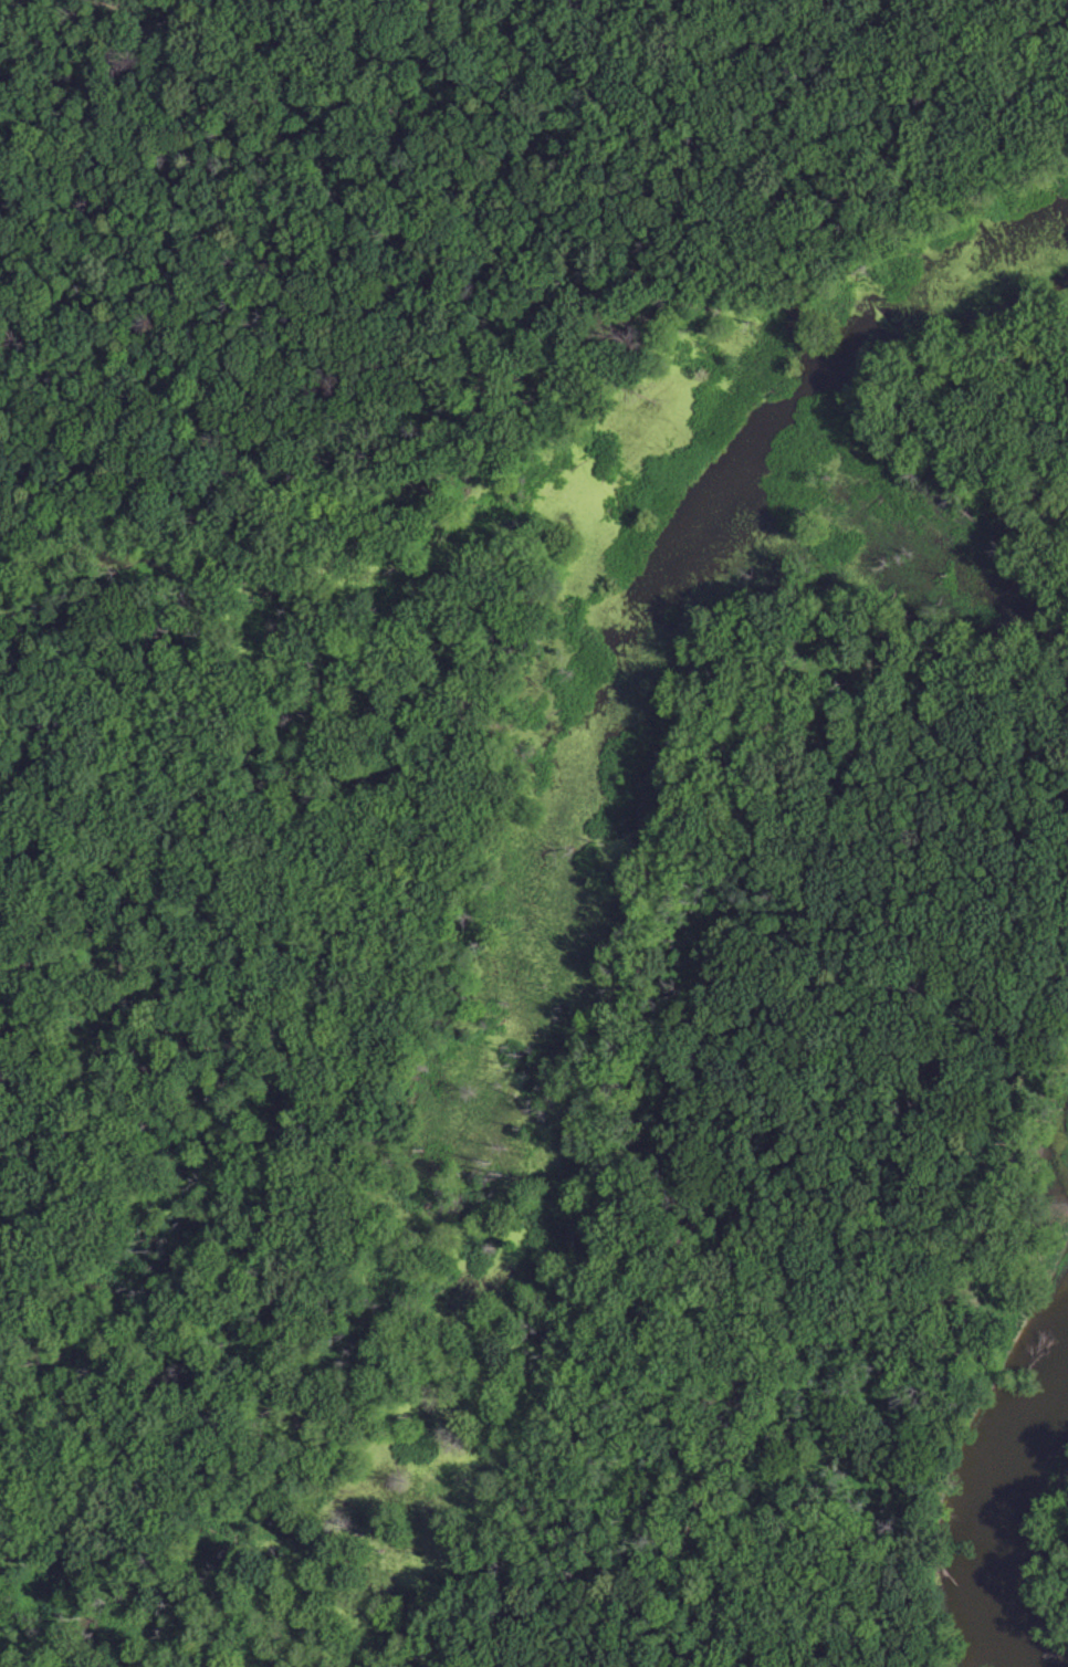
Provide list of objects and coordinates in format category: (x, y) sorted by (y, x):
river: (990, 1487)

